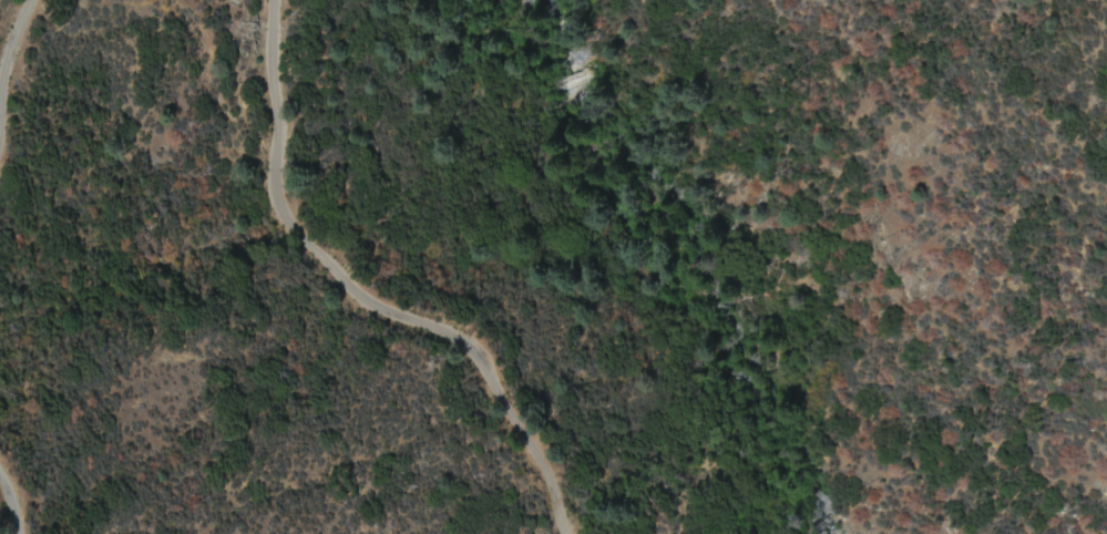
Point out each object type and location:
road: (350, 288)

